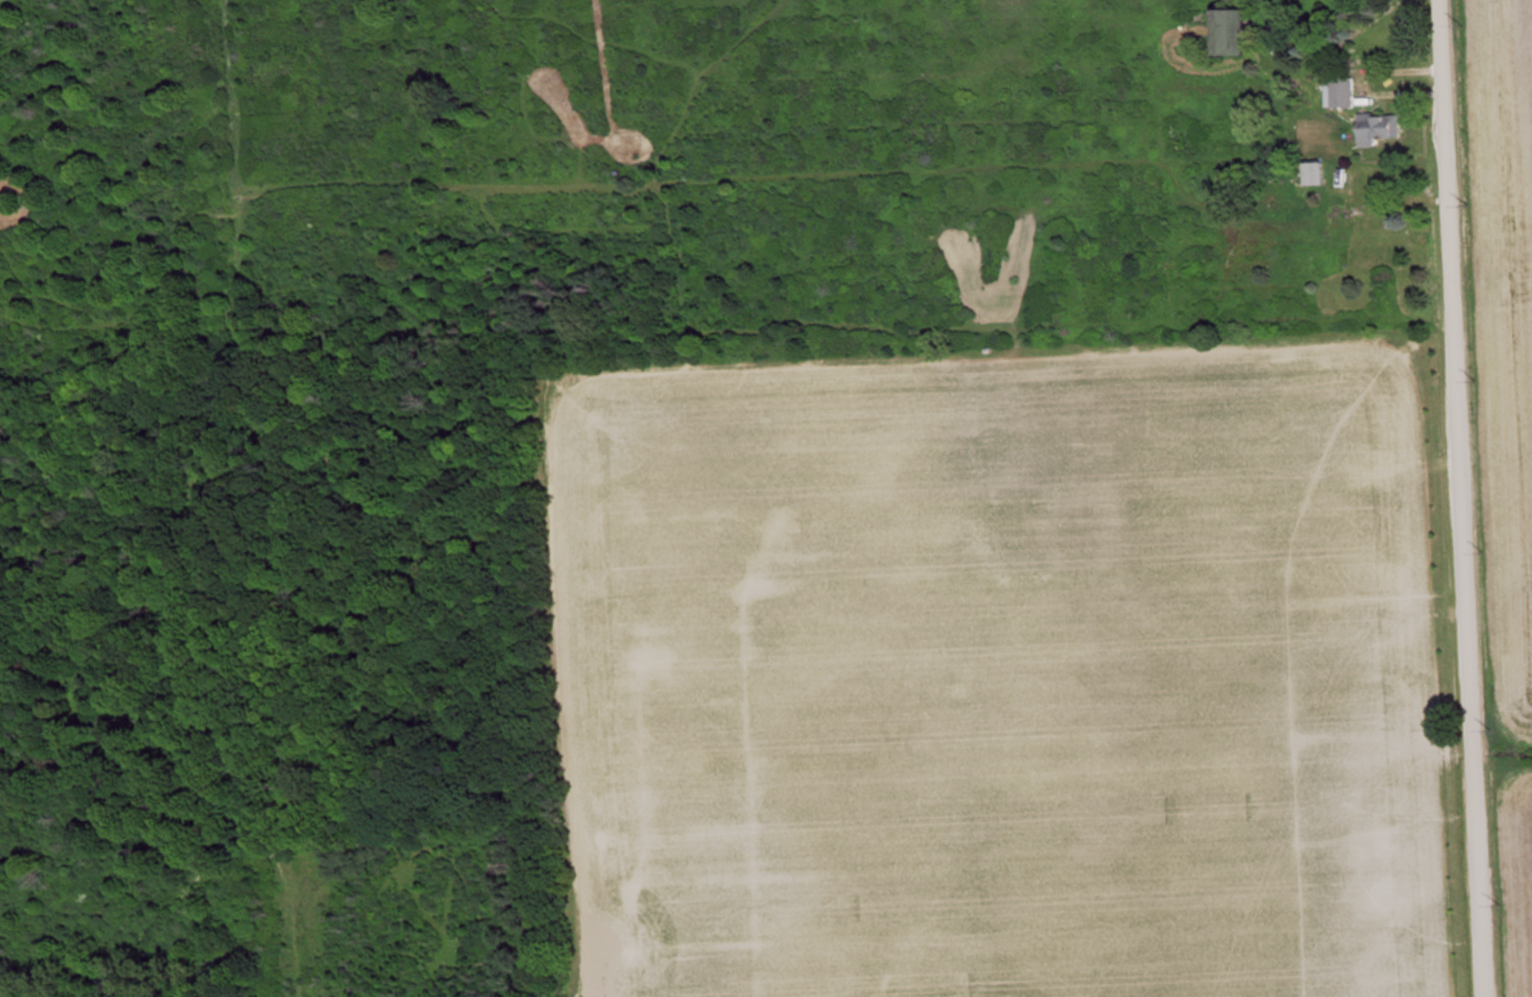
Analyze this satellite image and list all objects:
building: (1239, 34)
building: (1343, 93)
building: (1383, 128)
road: (1458, 498)

